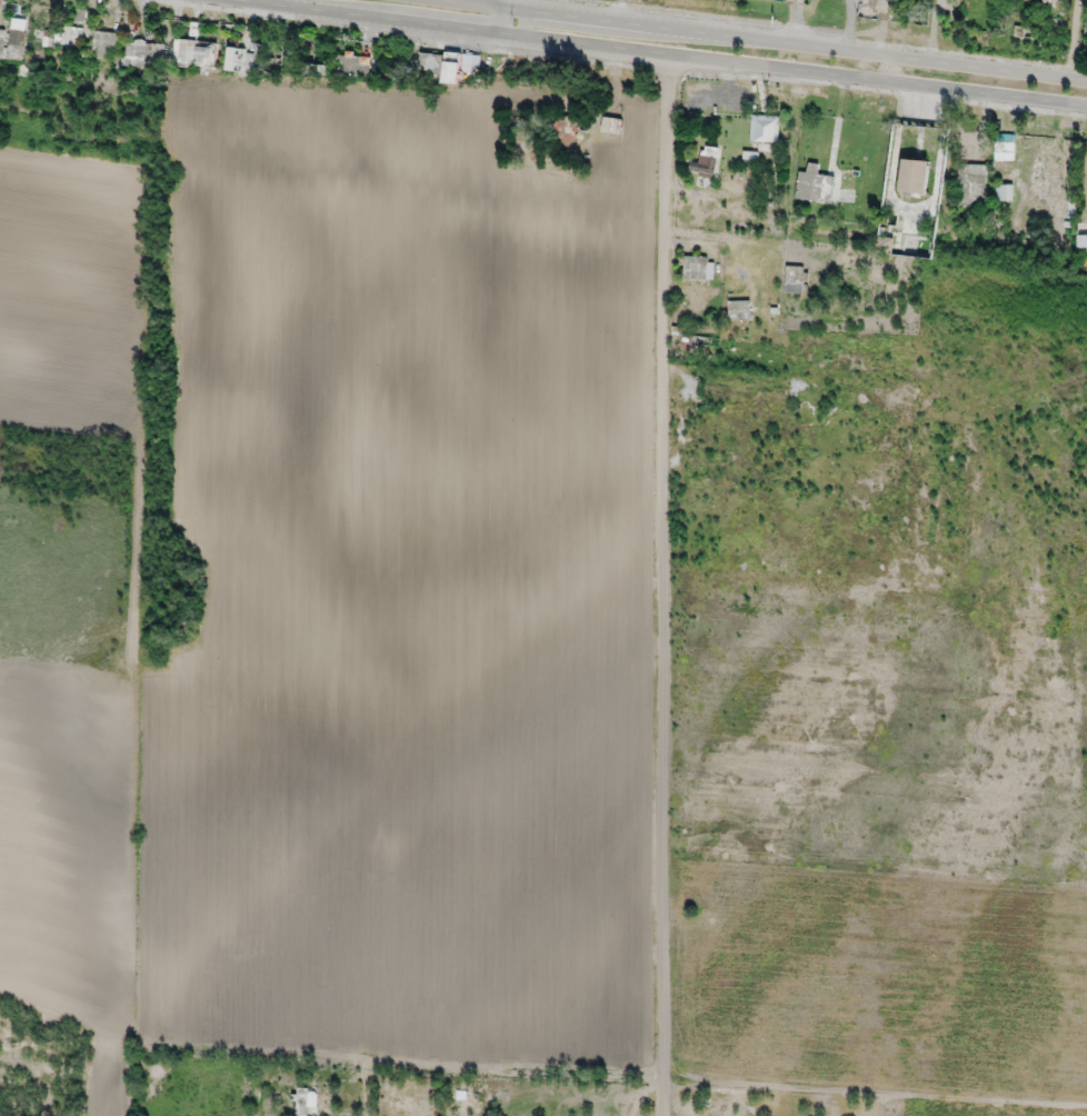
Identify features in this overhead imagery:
building: (1007, 149)

